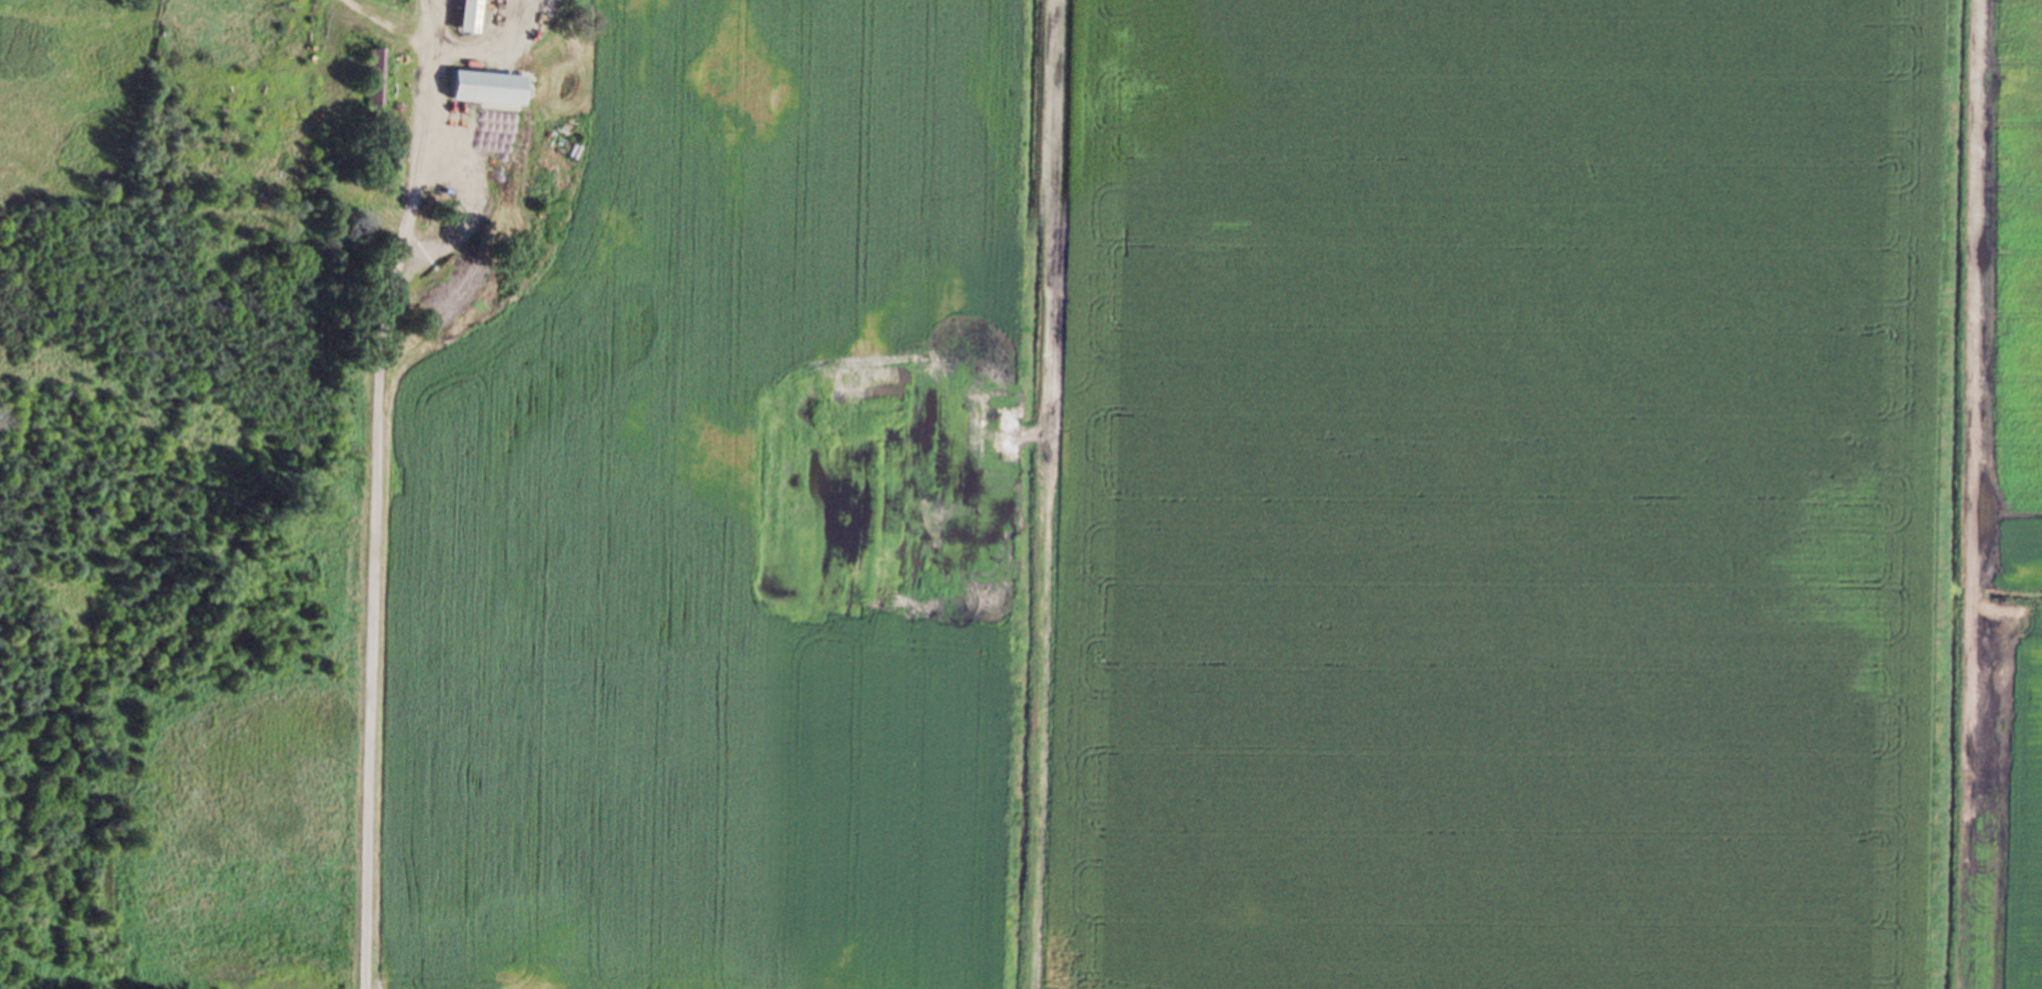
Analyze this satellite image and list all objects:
building: (469, 18)
building: (374, 80)
building: (487, 91)
road: (357, 453)

